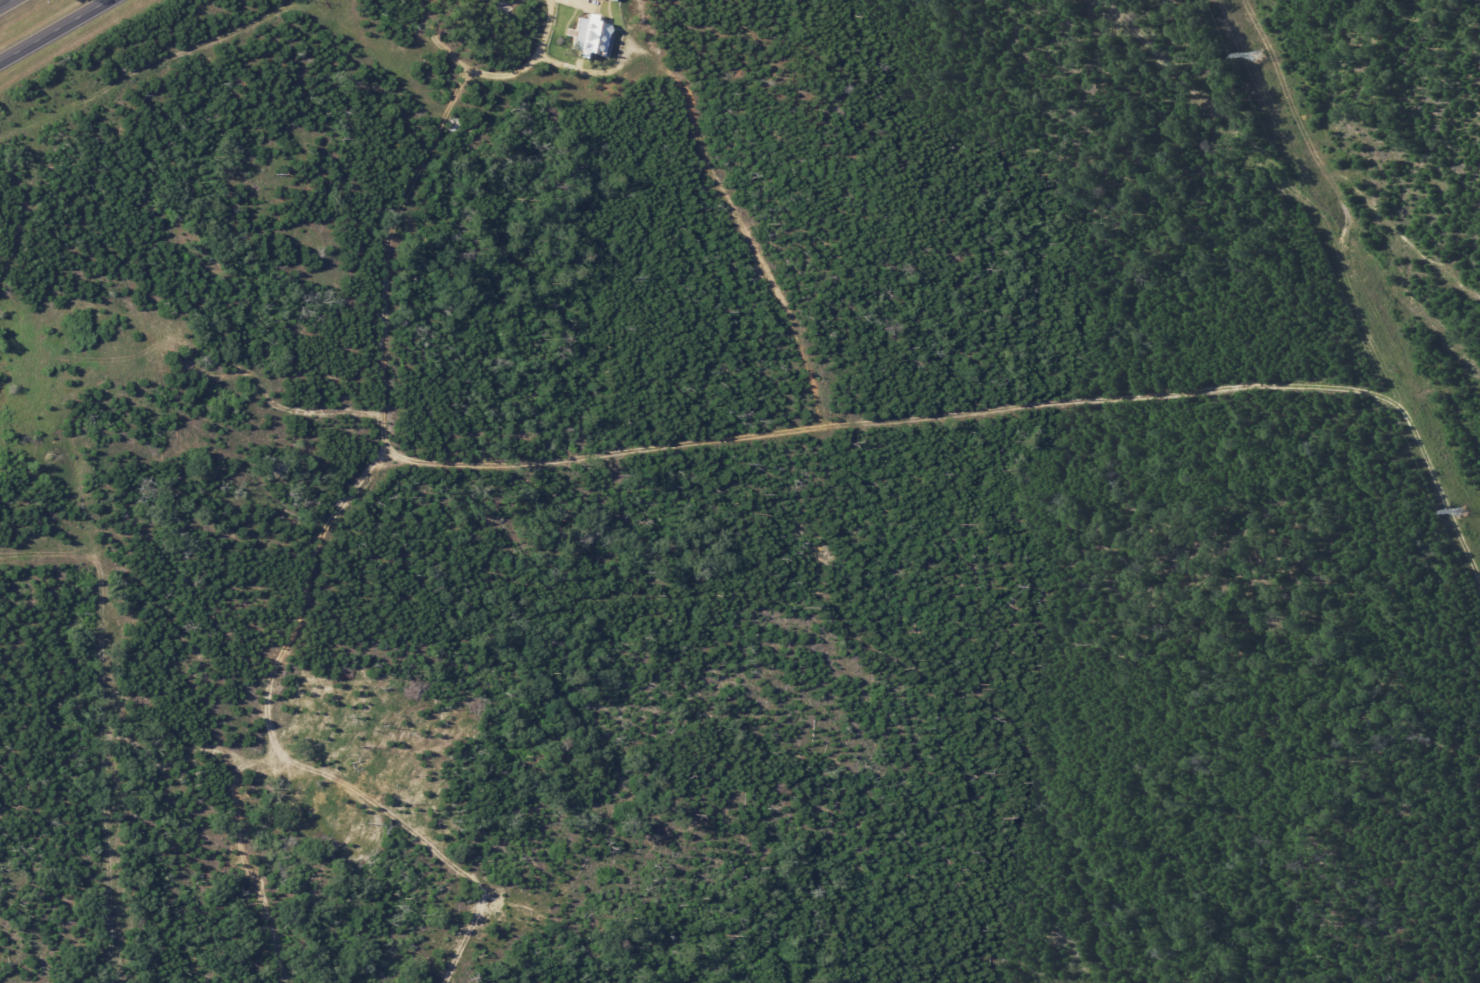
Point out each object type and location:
building: (607, 0)
road: (4, 2)
road: (52, 29)
building: (586, 39)
power tower: (1259, 56)
road: (492, 73)
road: (1065, 184)
power tower: (1460, 513)

